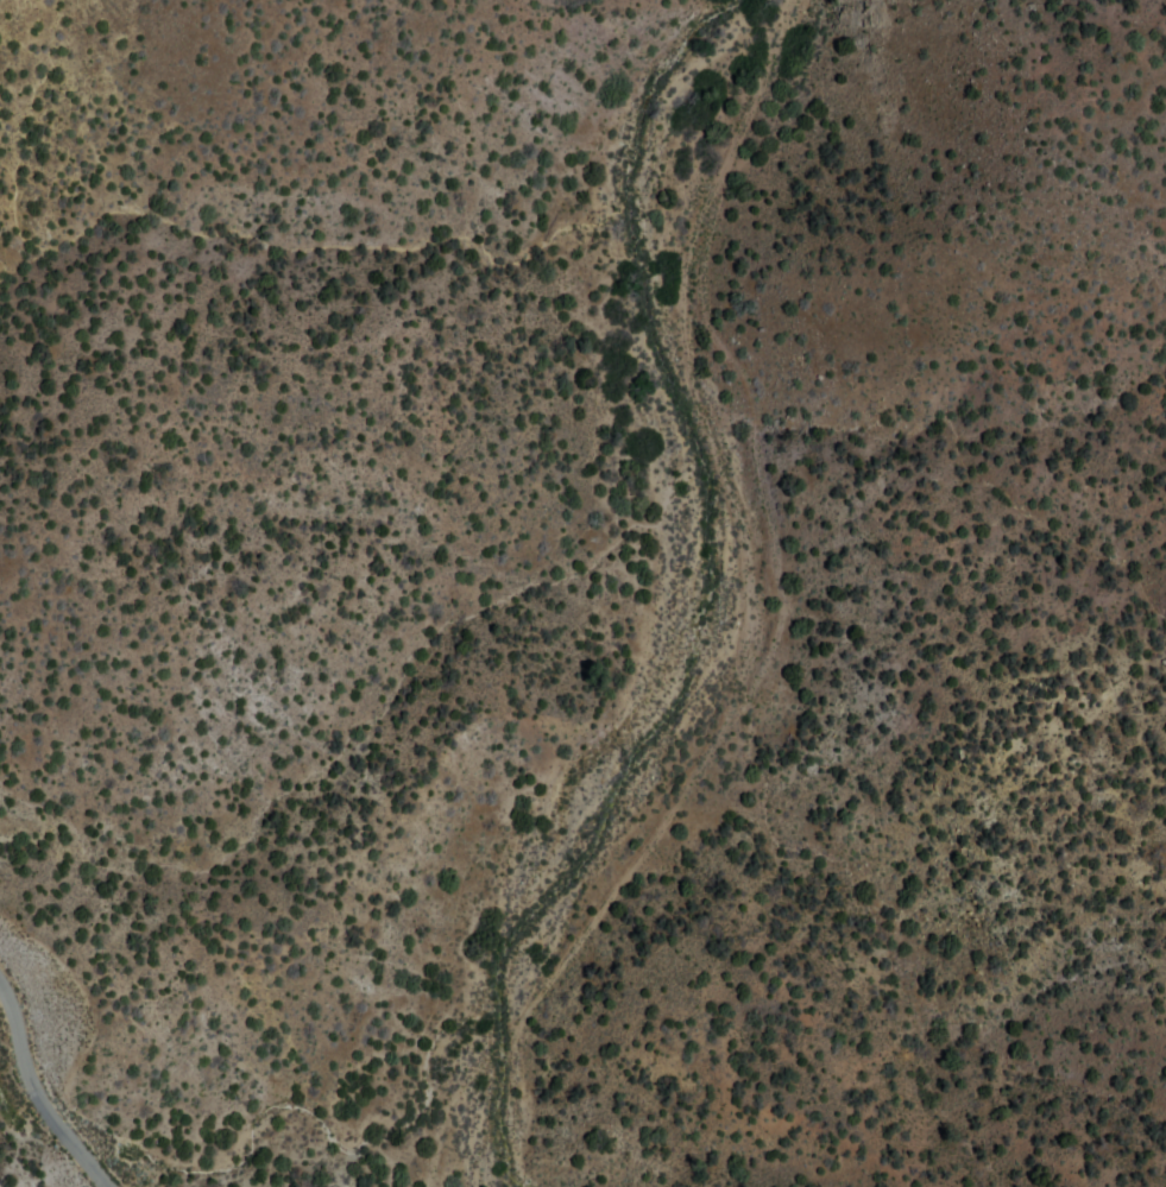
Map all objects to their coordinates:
road: (761, 631)

